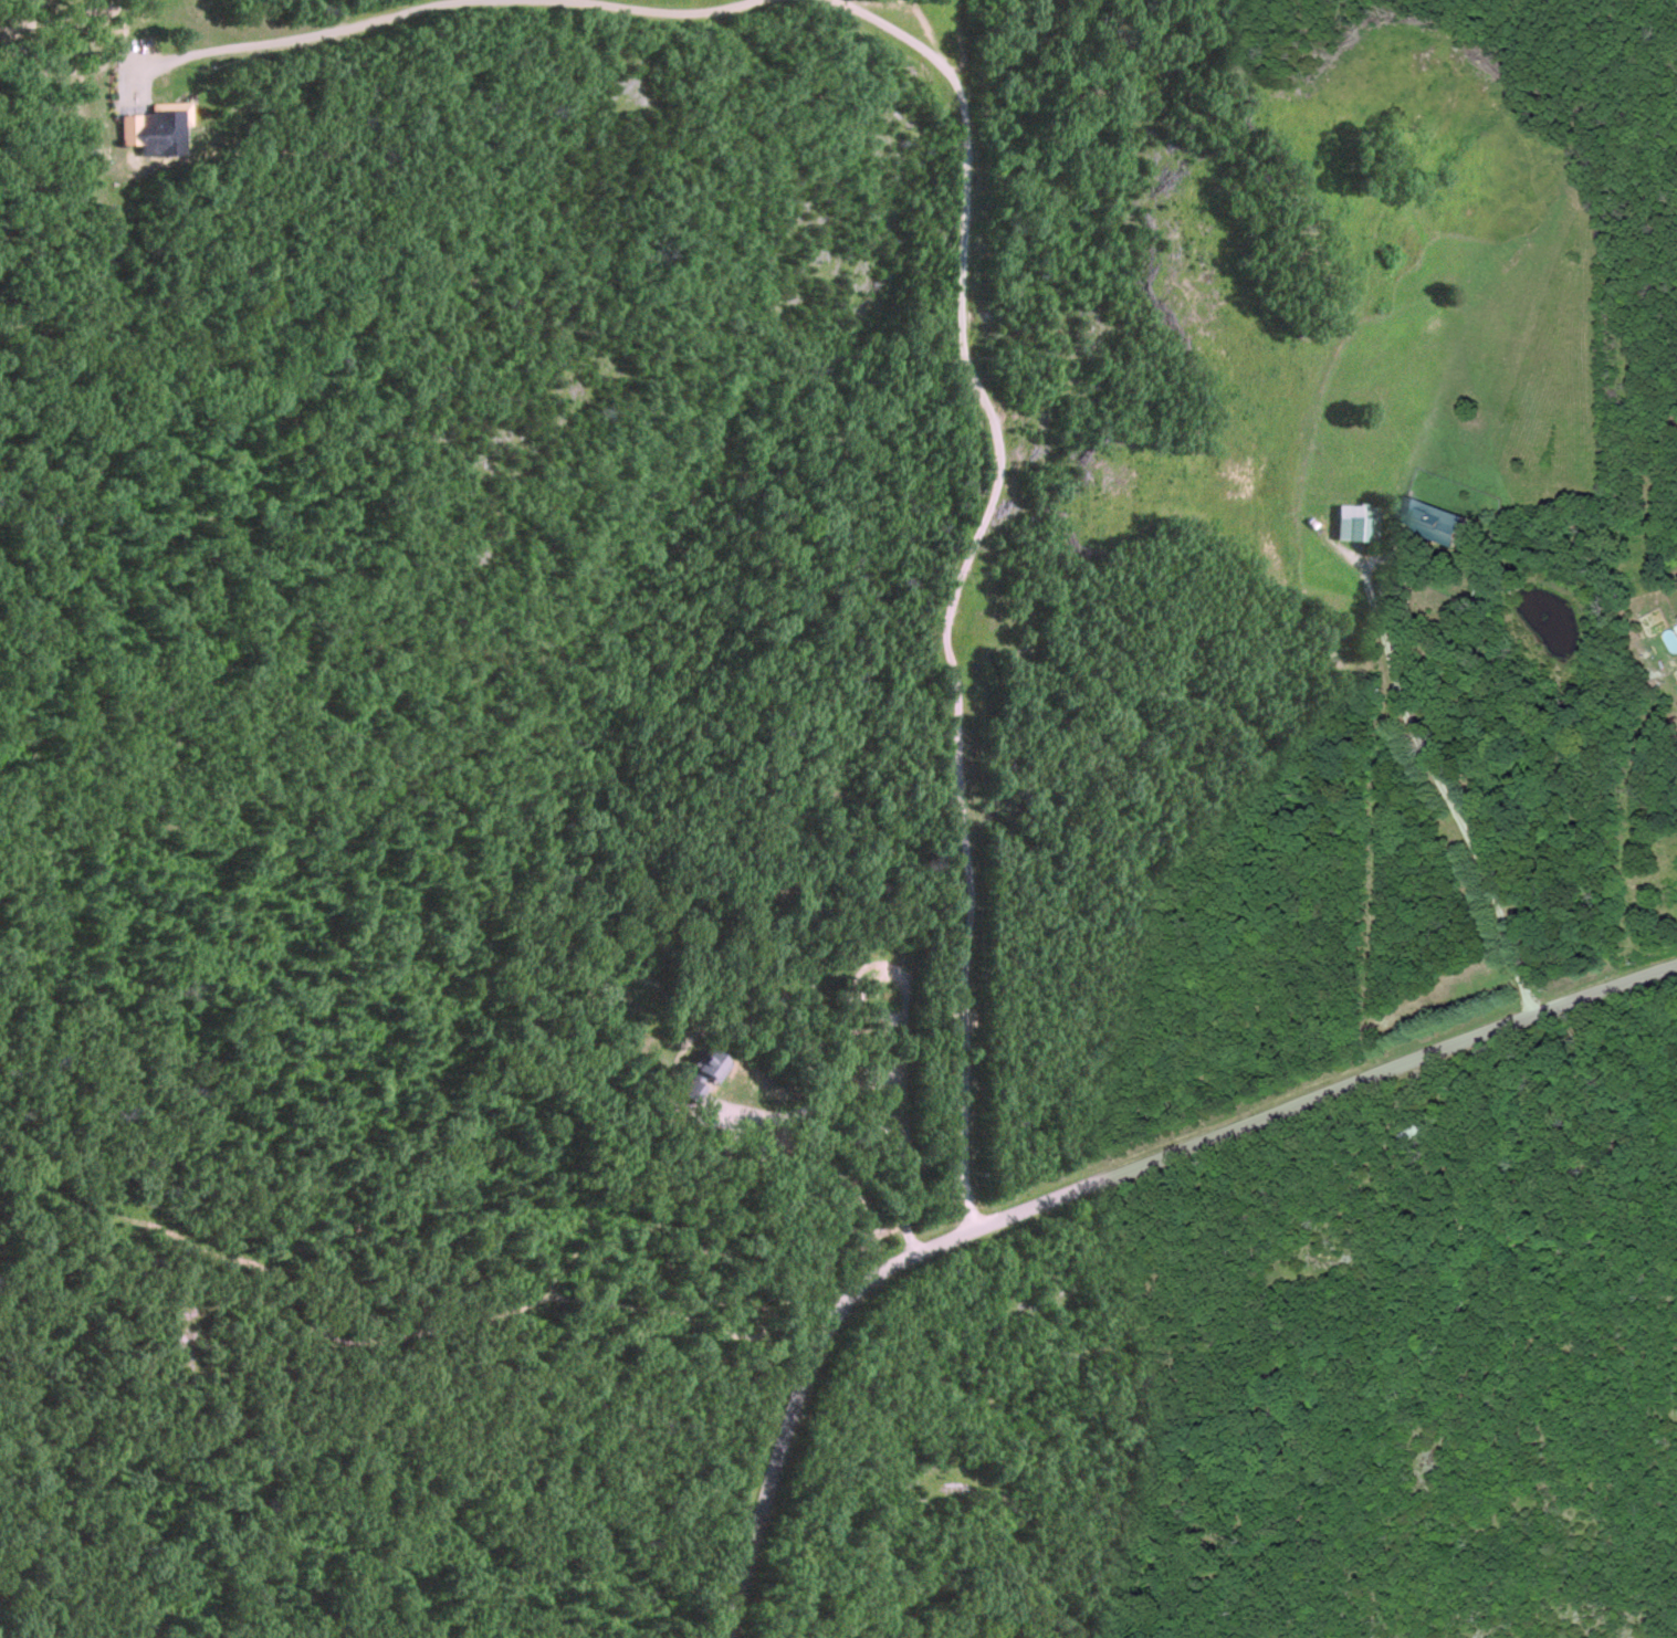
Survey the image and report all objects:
road: (669, 8)
road: (283, 35)
building: (160, 132)
building: (1429, 522)
building: (1356, 527)
road: (956, 579)
road: (1413, 742)
building: (708, 1068)
road: (1079, 1177)

